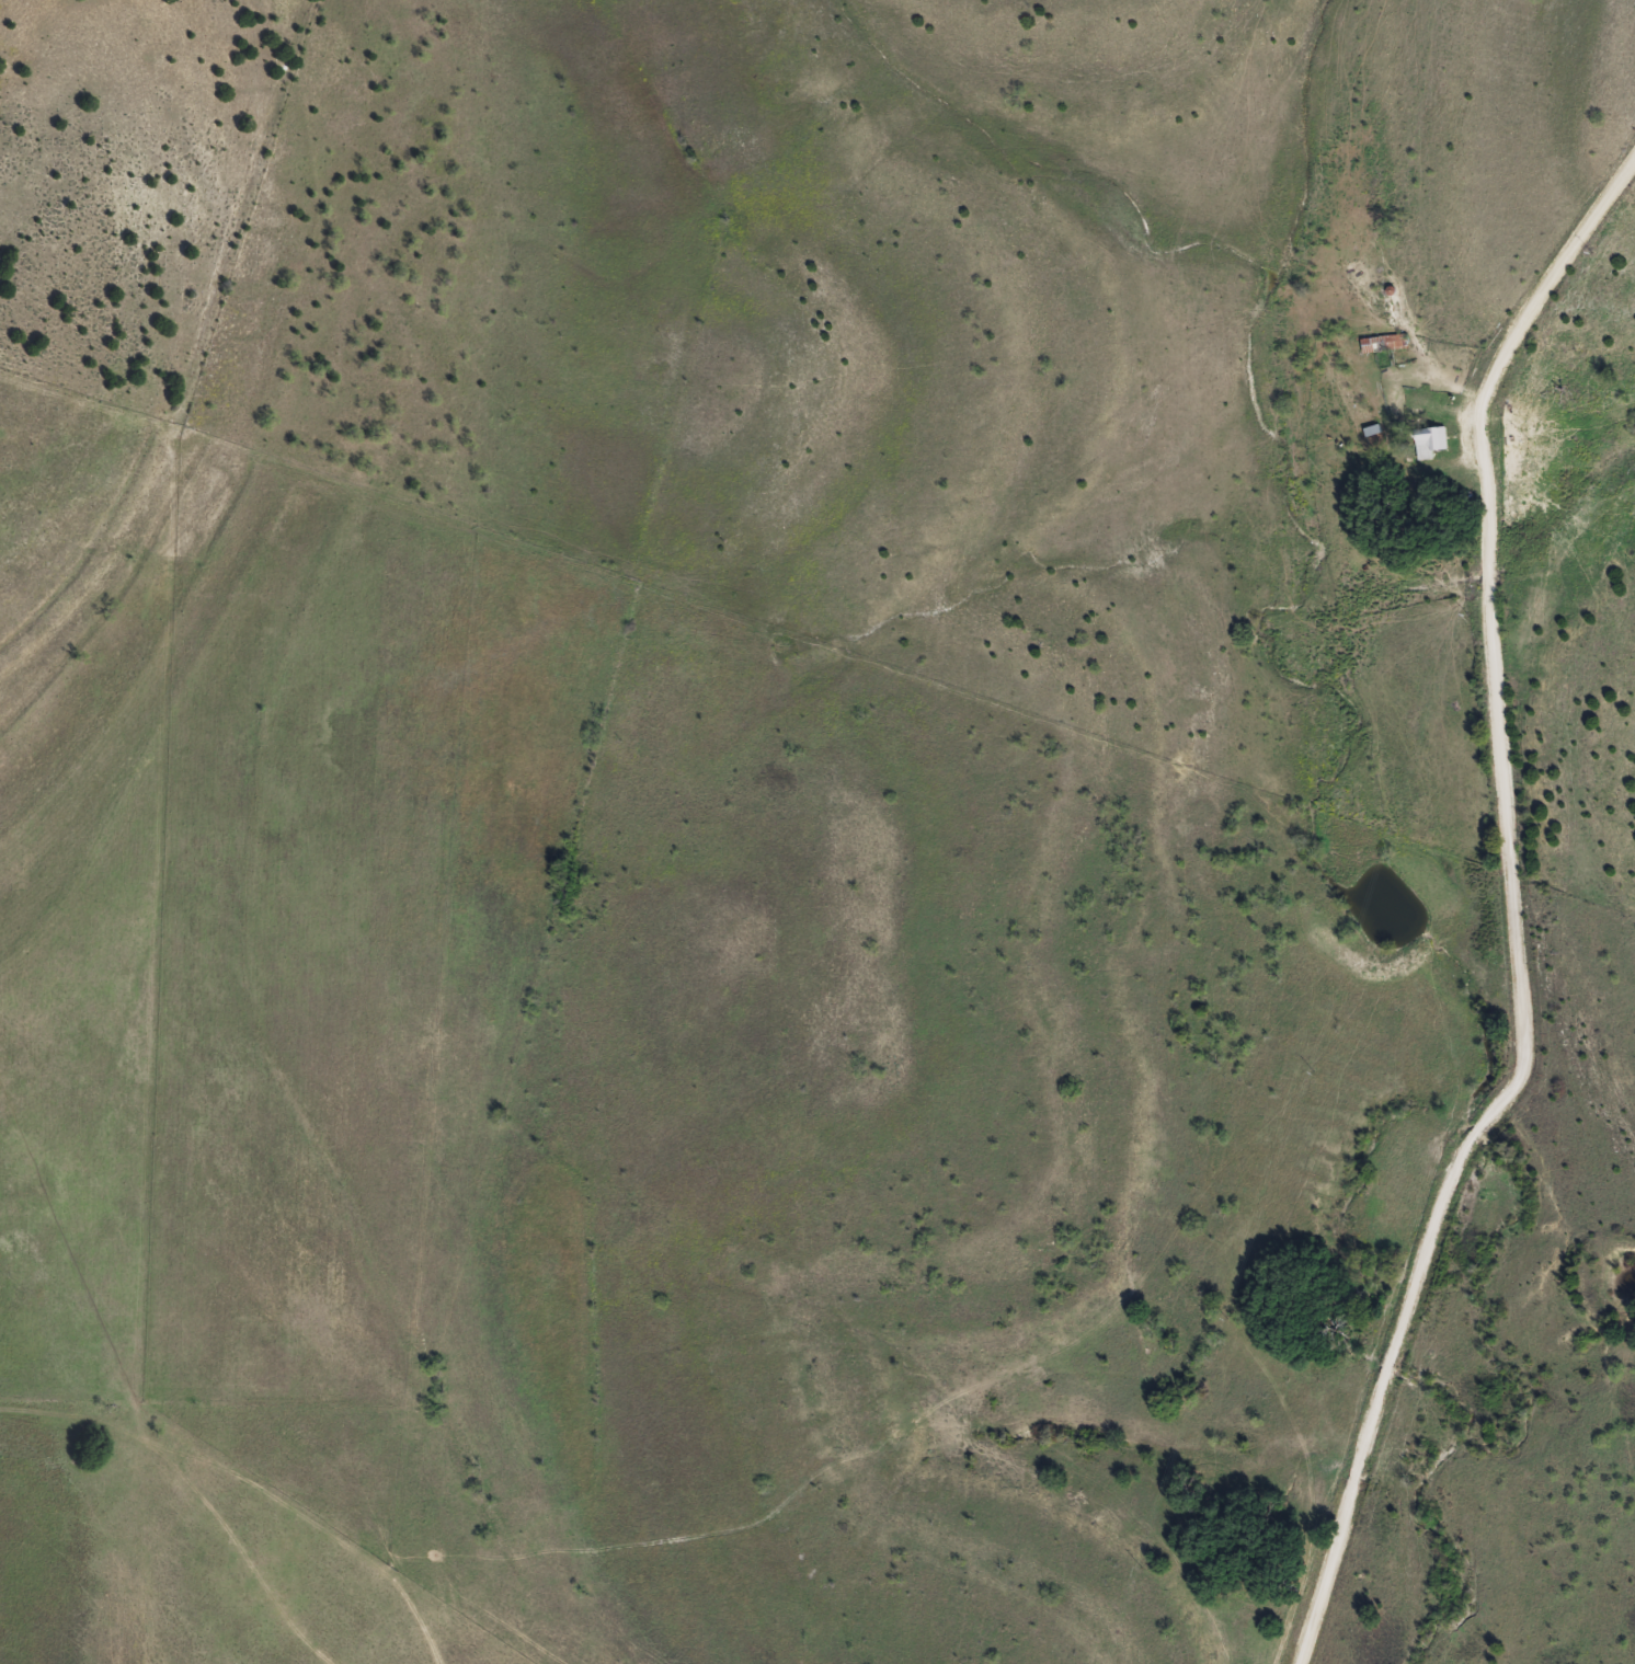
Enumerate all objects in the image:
building: (1385, 345)
building: (1429, 445)
road: (1508, 908)

